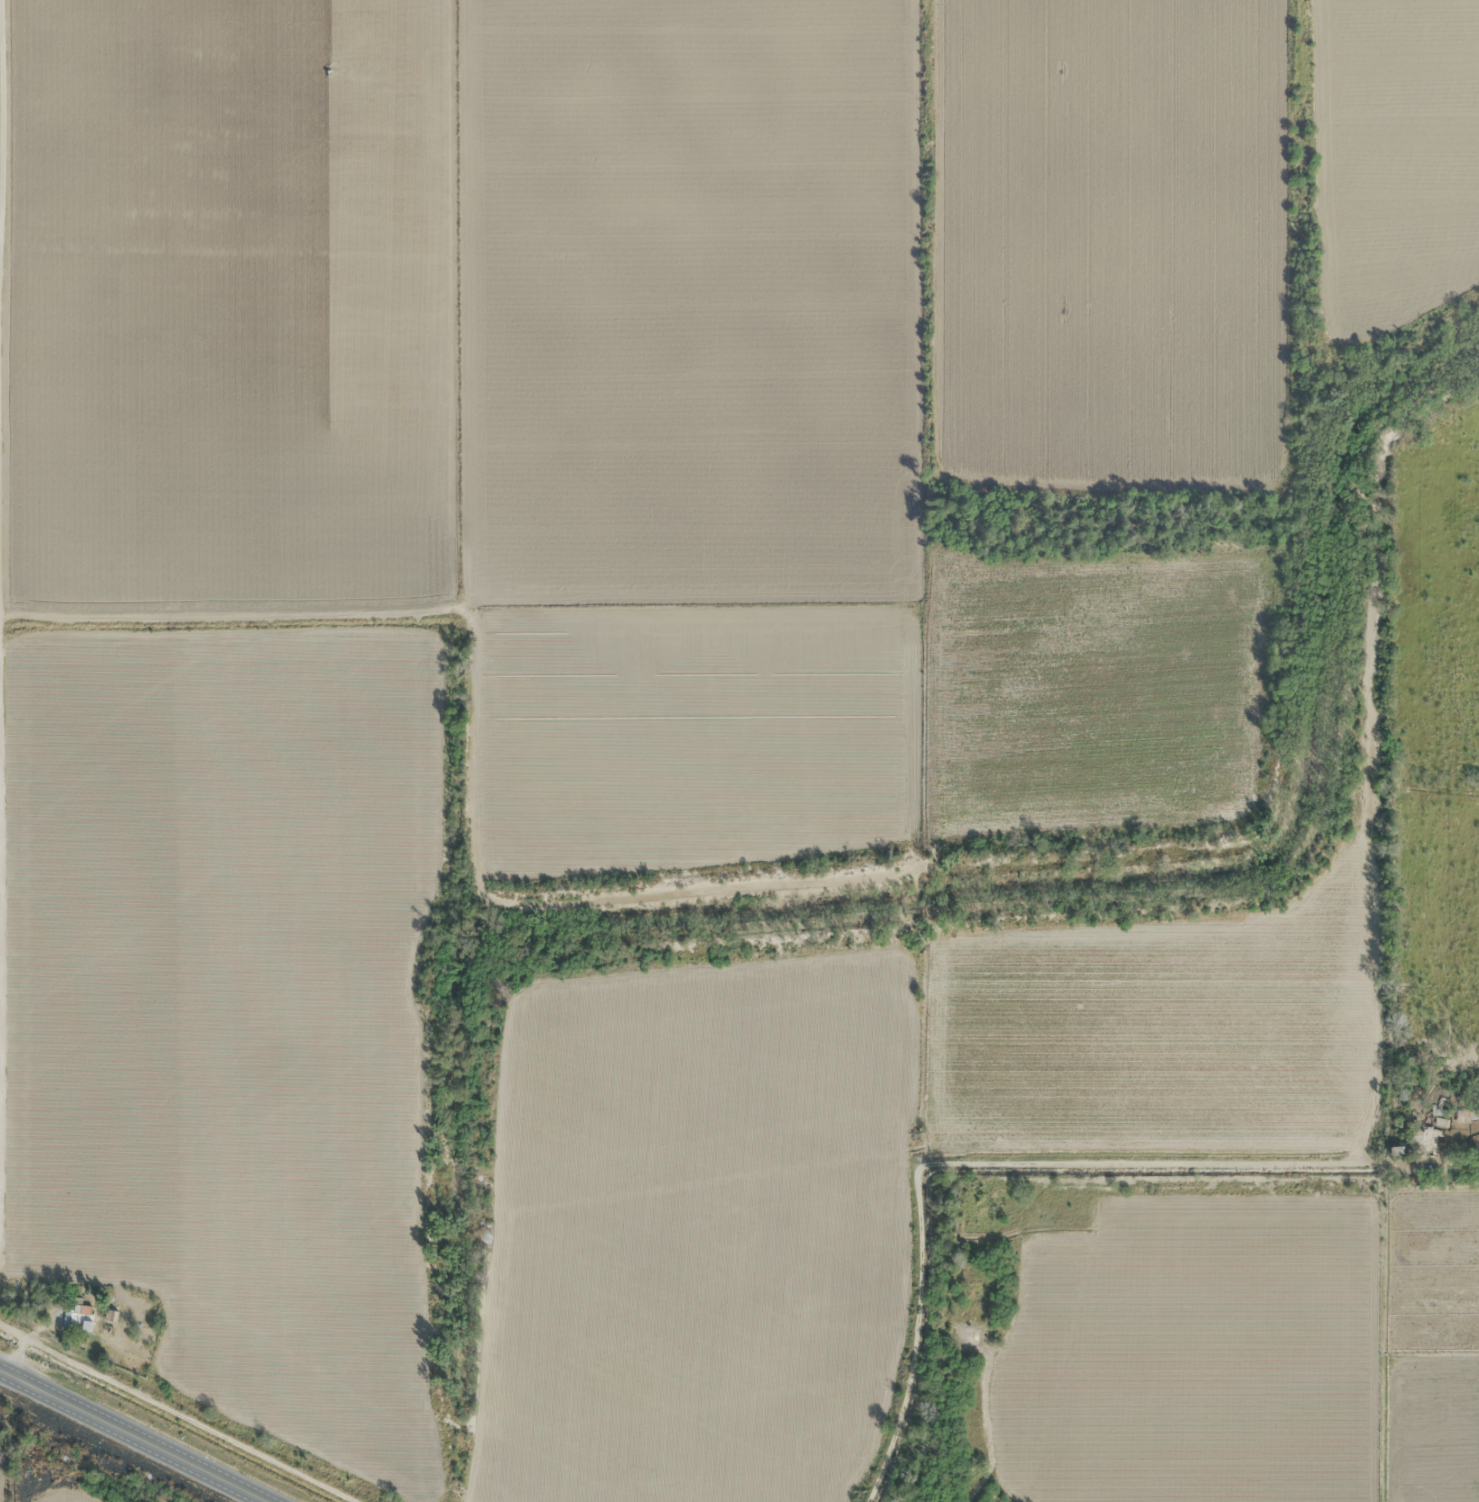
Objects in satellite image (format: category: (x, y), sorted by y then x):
road: (136, 1434)

